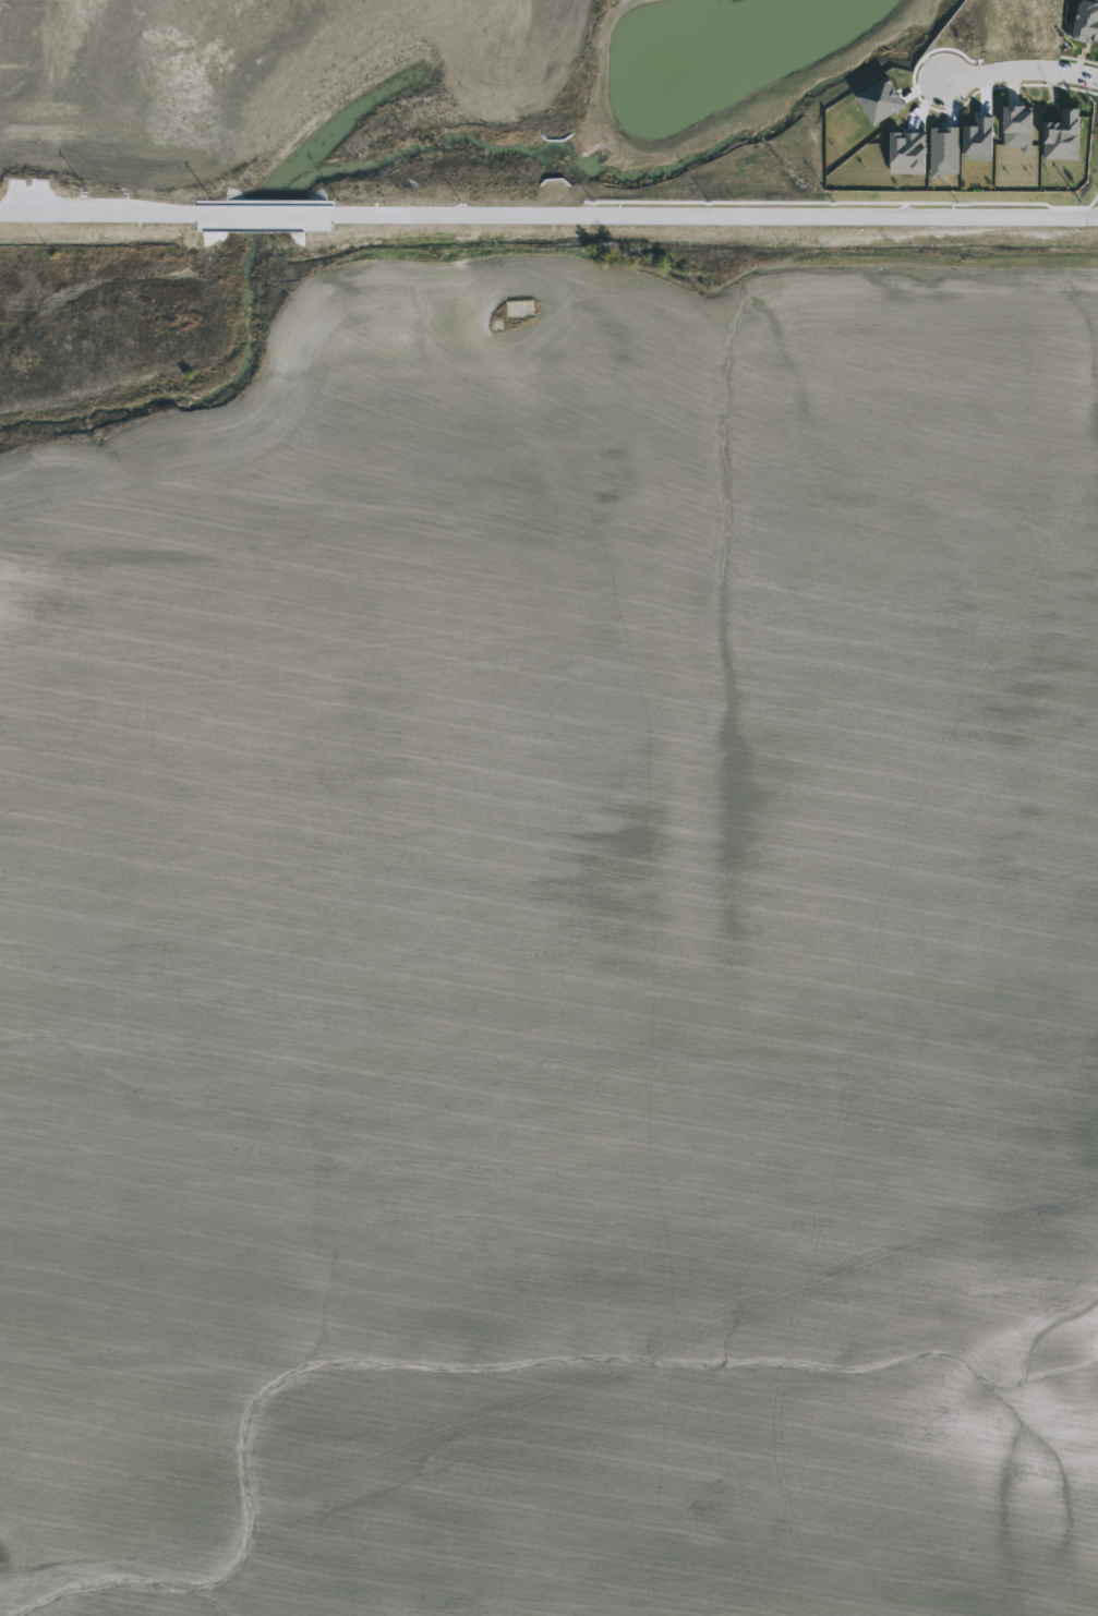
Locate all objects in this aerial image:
crop: (229, 70)
road: (1019, 70)
road: (99, 214)
road: (266, 215)
road: (715, 216)
crop: (562, 945)

